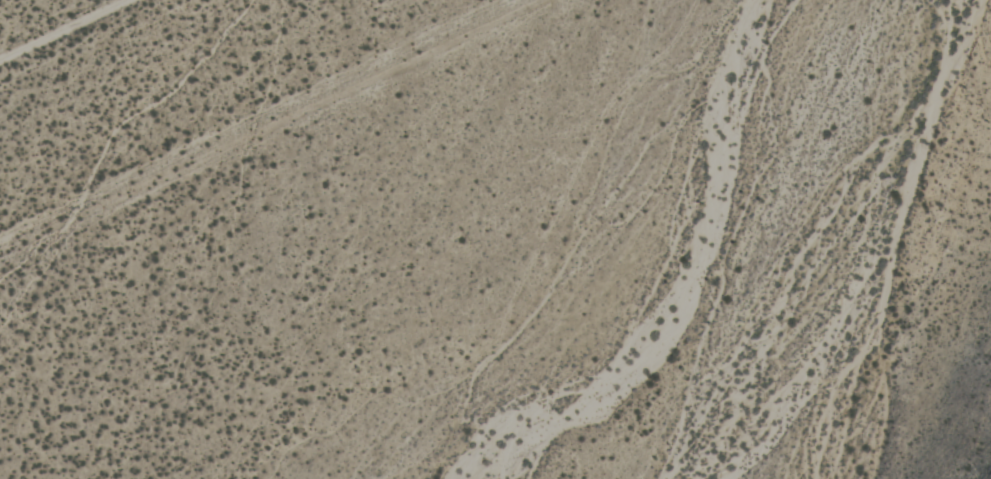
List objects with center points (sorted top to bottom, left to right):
road: (57, 27)

